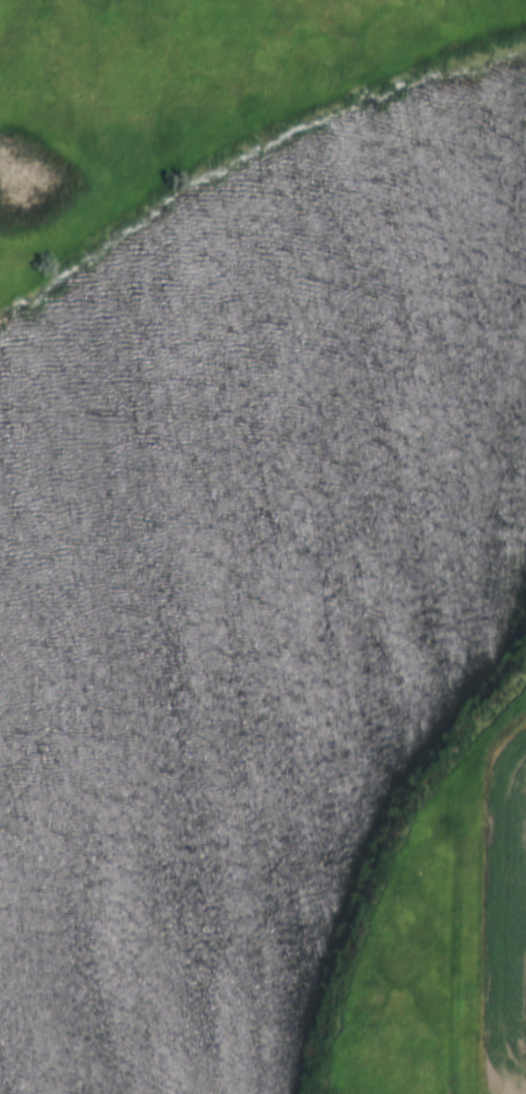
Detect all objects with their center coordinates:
crop: (503, 920)

